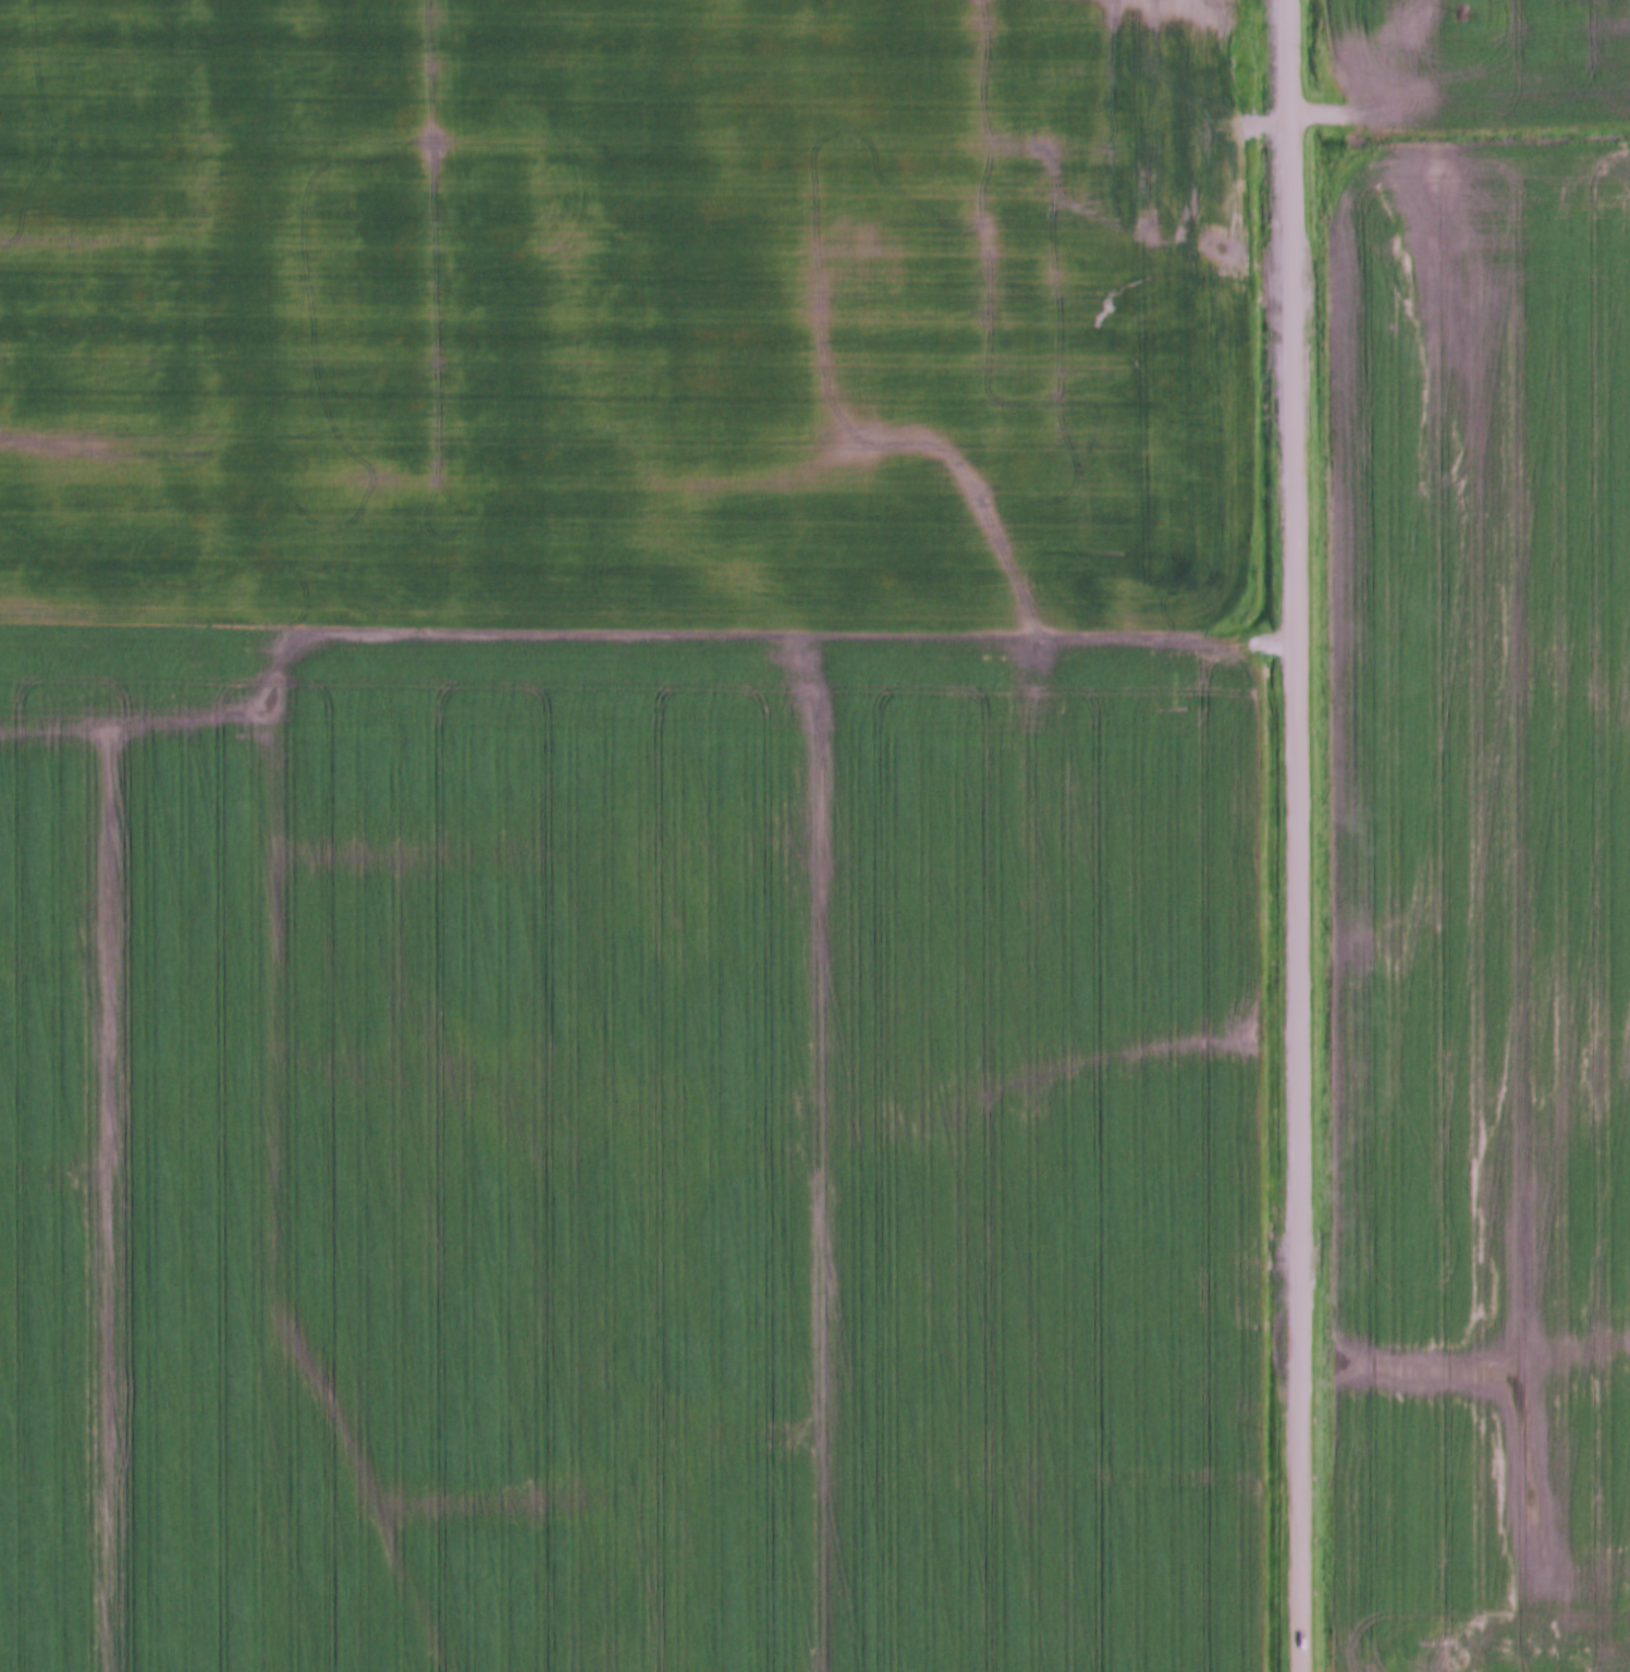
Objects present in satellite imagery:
road: (1461, 129)
road: (1302, 835)

